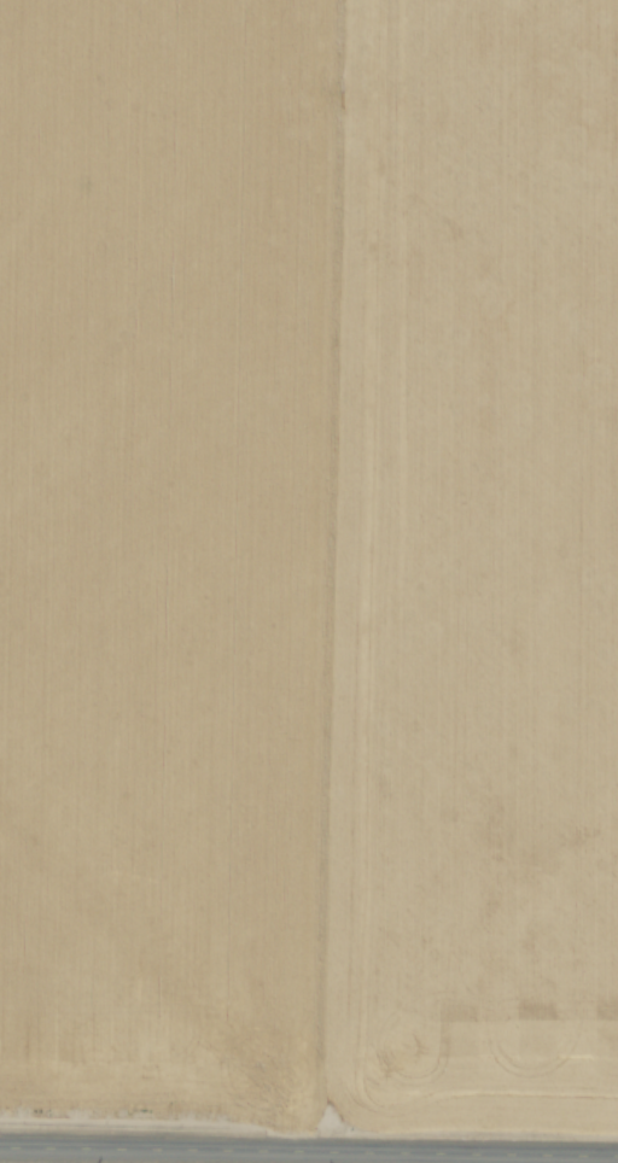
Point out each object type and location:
road: (309, 1151)

